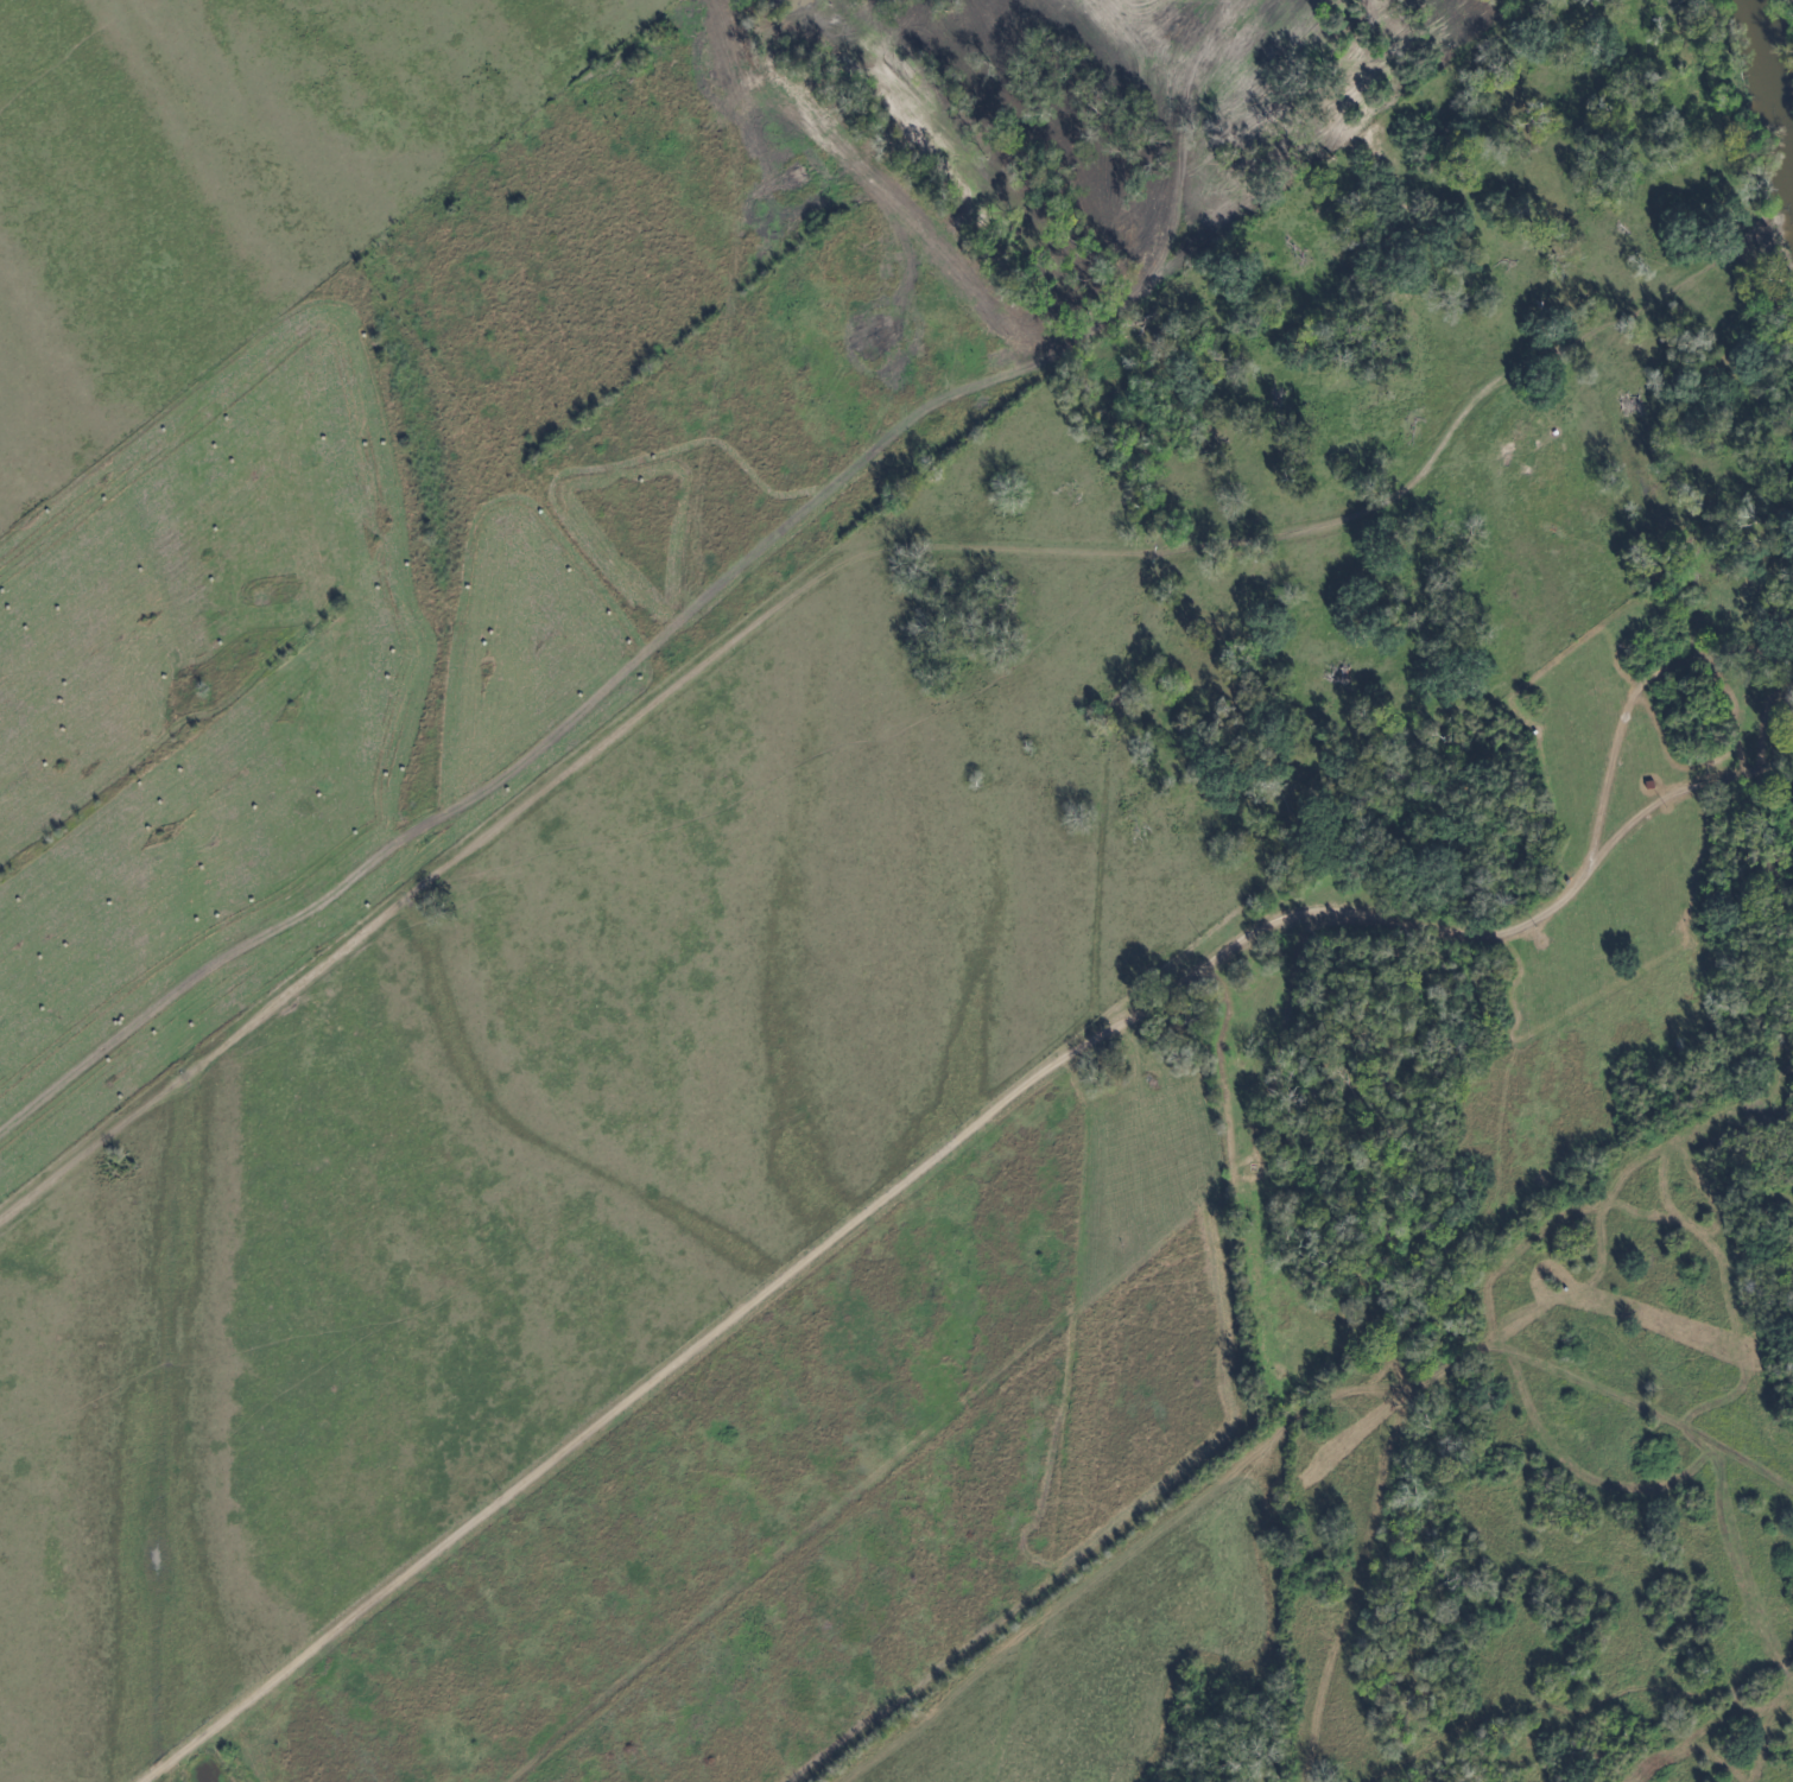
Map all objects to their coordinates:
river: (1780, 37)

